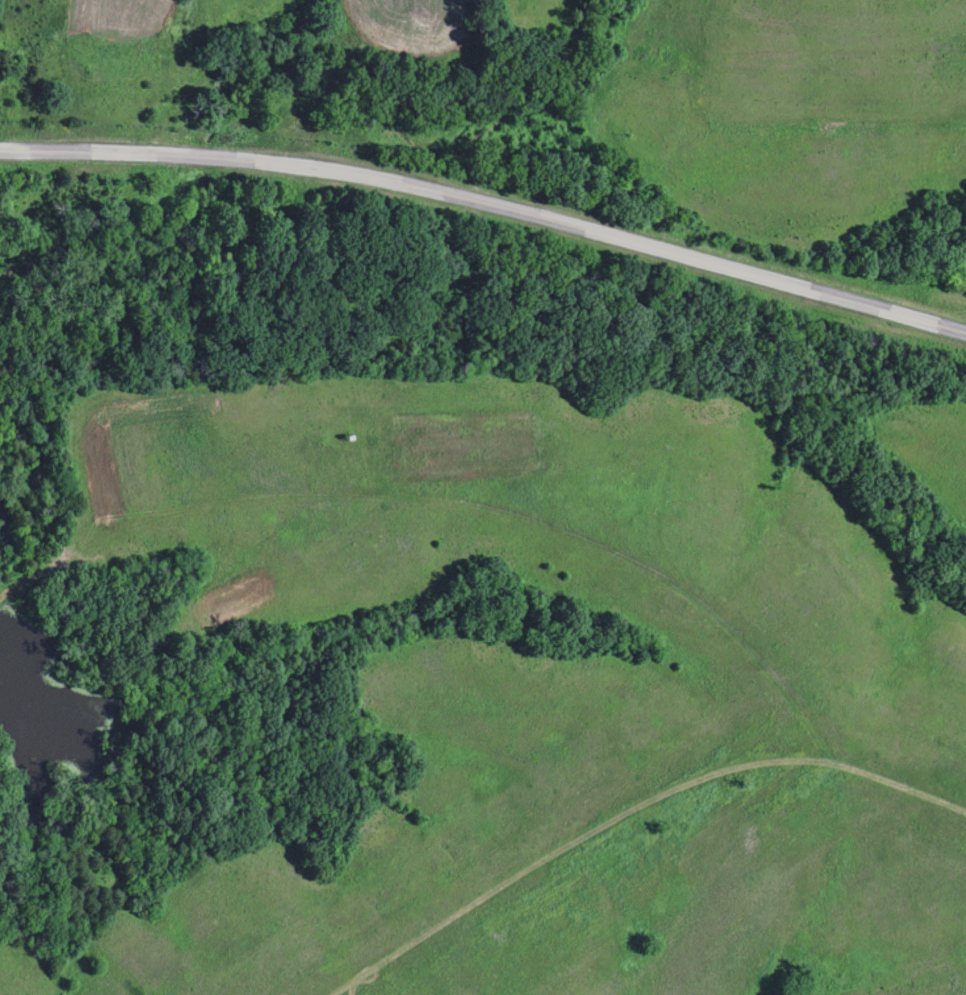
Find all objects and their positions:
road: (489, 204)

